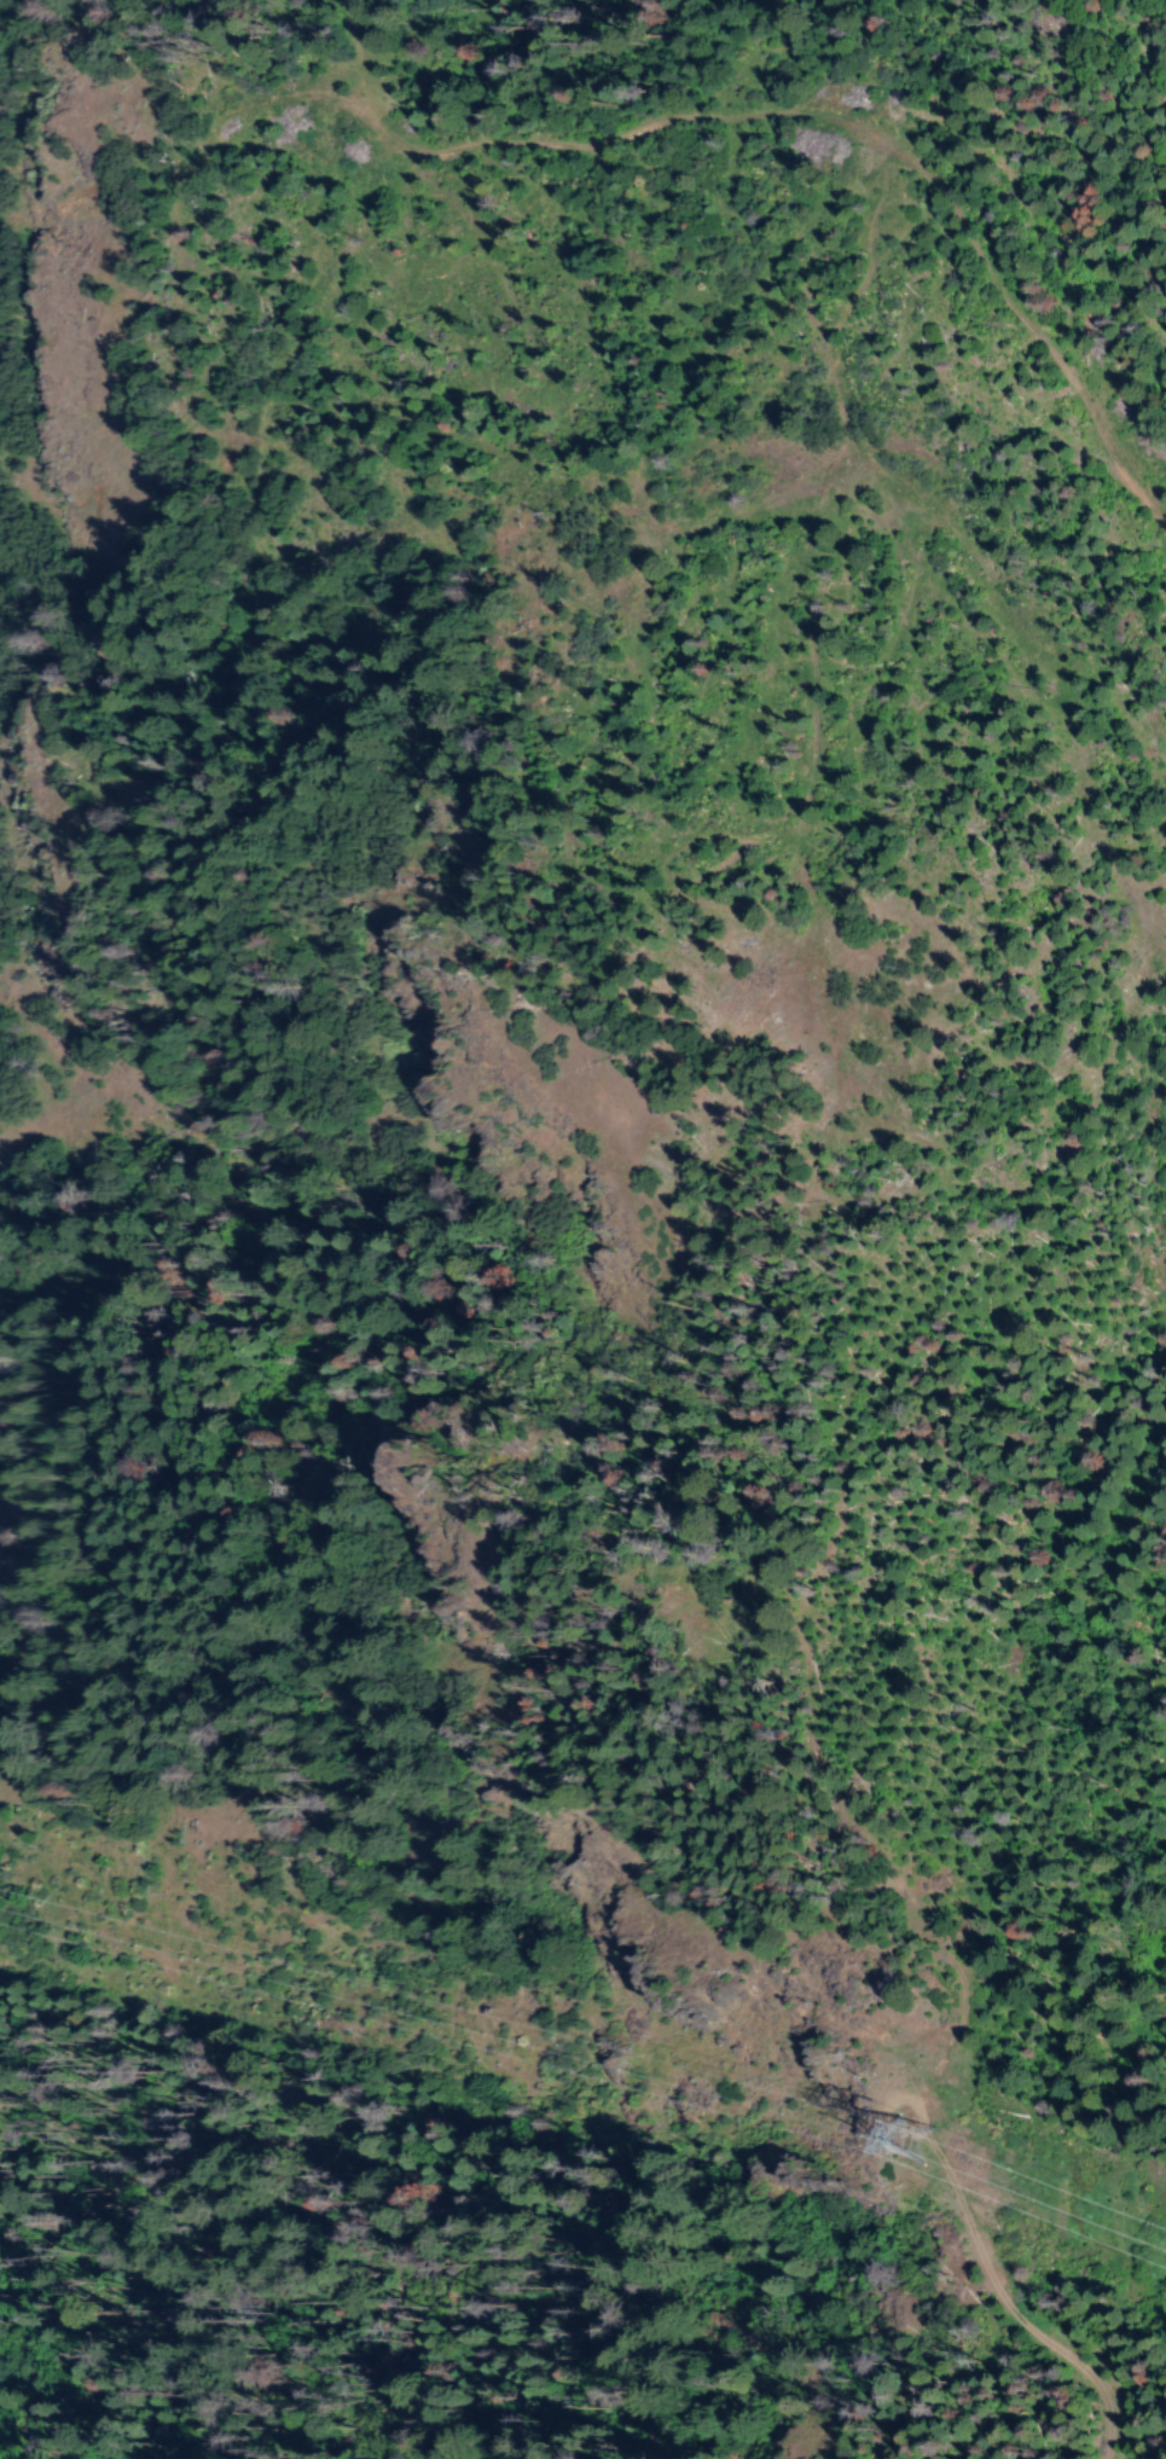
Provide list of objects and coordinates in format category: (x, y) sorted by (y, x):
power tower: (918, 2135)
road: (1027, 2326)

